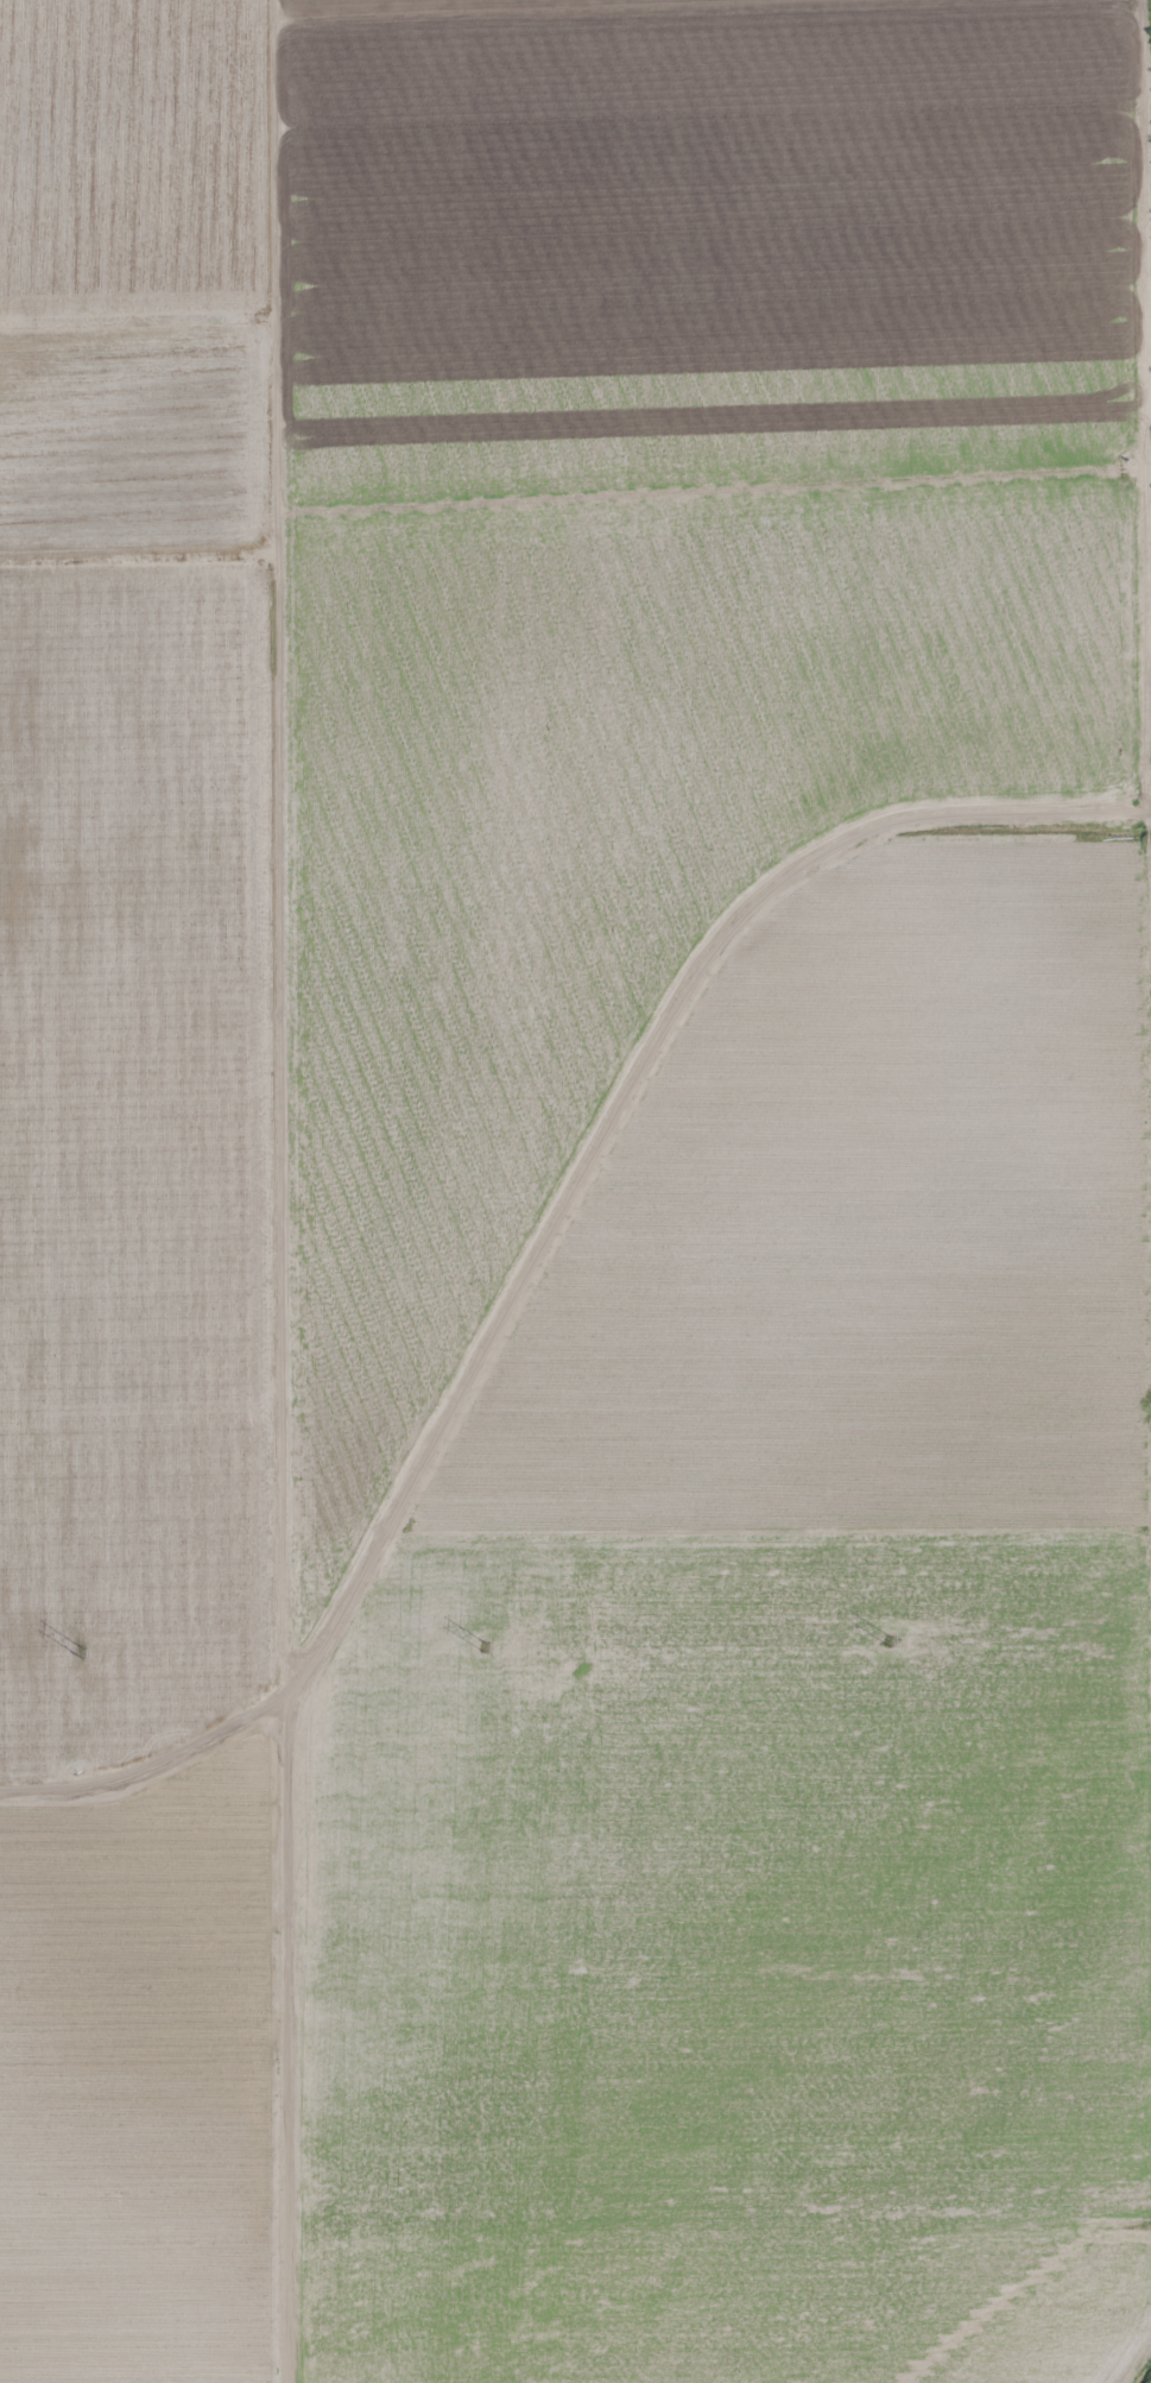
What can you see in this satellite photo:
road: (548, 1255)
power tower: (887, 1640)
power tower: (482, 1646)
power tower: (81, 1652)

